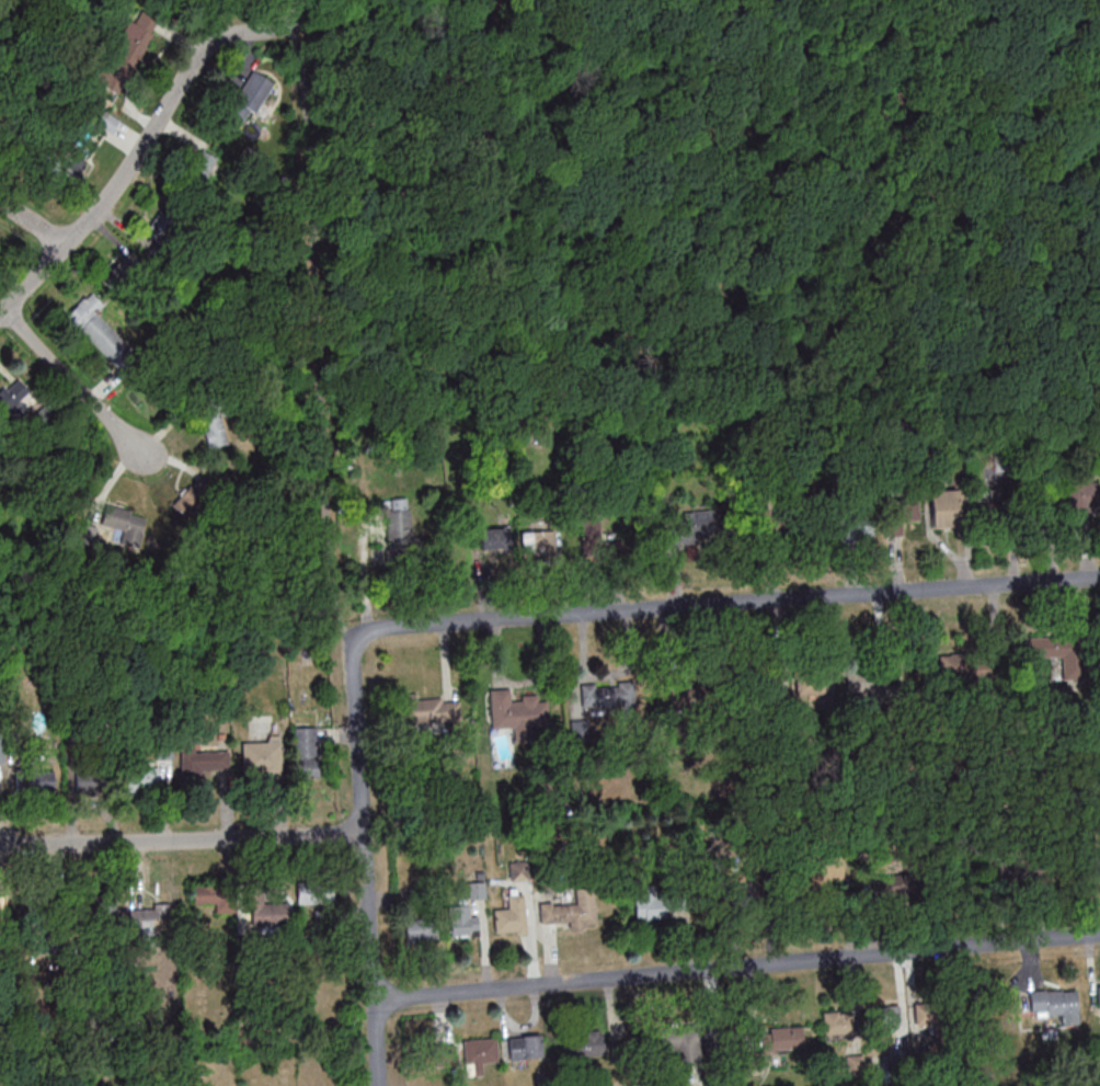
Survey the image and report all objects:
road: (306, 1)
road: (298, 13)
building: (128, 52)
road: (1012, 94)
road: (557, 95)
building: (27, 116)
road: (1038, 117)
building: (108, 122)
building: (302, 139)
road: (137, 152)
building: (205, 162)
building: (67, 169)
road: (711, 171)
road: (34, 222)
building: (162, 225)
building: (317, 231)
building: (124, 273)
building: (99, 330)
road: (316, 334)
road: (70, 381)
building: (12, 399)
building: (214, 428)
building: (1084, 496)
building: (193, 499)
building: (501, 501)
building: (993, 506)
building: (946, 507)
building: (398, 512)
building: (901, 515)
building: (125, 523)
building: (692, 525)
building: (856, 526)
building: (784, 527)
building: (621, 530)
building: (87, 533)
building: (538, 541)
road: (725, 602)
building: (1052, 656)
building: (955, 664)
building: (873, 677)
building: (800, 683)
building: (608, 694)
building: (701, 695)
building: (426, 709)
building: (516, 710)
building: (307, 751)
building: (1097, 755)
building: (261, 756)
building: (203, 762)
building: (1029, 764)
building: (951, 768)
building: (146, 773)
building: (34, 780)
building: (89, 780)
road: (181, 837)
road: (364, 861)
building: (1093, 866)
building: (1010, 870)
building: (903, 872)
building: (817, 878)
building: (740, 883)
building: (313, 892)
building: (660, 901)
building: (1, 902)
building: (36, 905)
building: (208, 908)
building: (101, 910)
building: (271, 913)
building: (568, 914)
building: (512, 917)
building: (150, 918)
building: (462, 922)
building: (421, 928)
road: (737, 964)
building: (1099, 994)
building: (1055, 1004)
building: (987, 1011)
building: (927, 1013)
building: (884, 1014)
building: (835, 1022)
building: (585, 1043)
building: (775, 1044)
building: (681, 1045)
building: (525, 1047)
building: (479, 1054)

